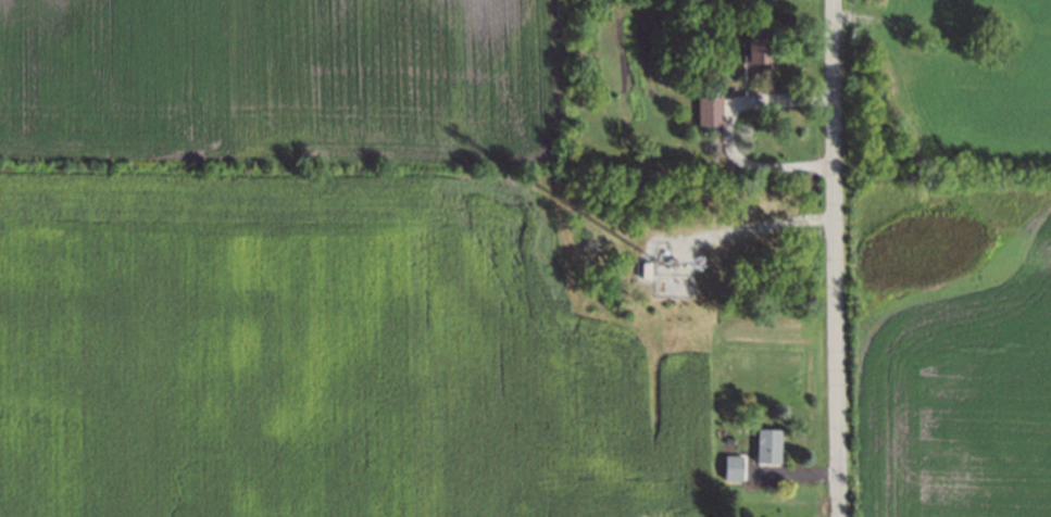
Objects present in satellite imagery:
building: (754, 47)
building: (668, 66)
crop: (278, 78)
building: (704, 110)
road: (838, 258)
building: (666, 261)
building: (642, 266)
building: (656, 283)
building: (763, 443)
building: (725, 451)
building: (728, 465)

